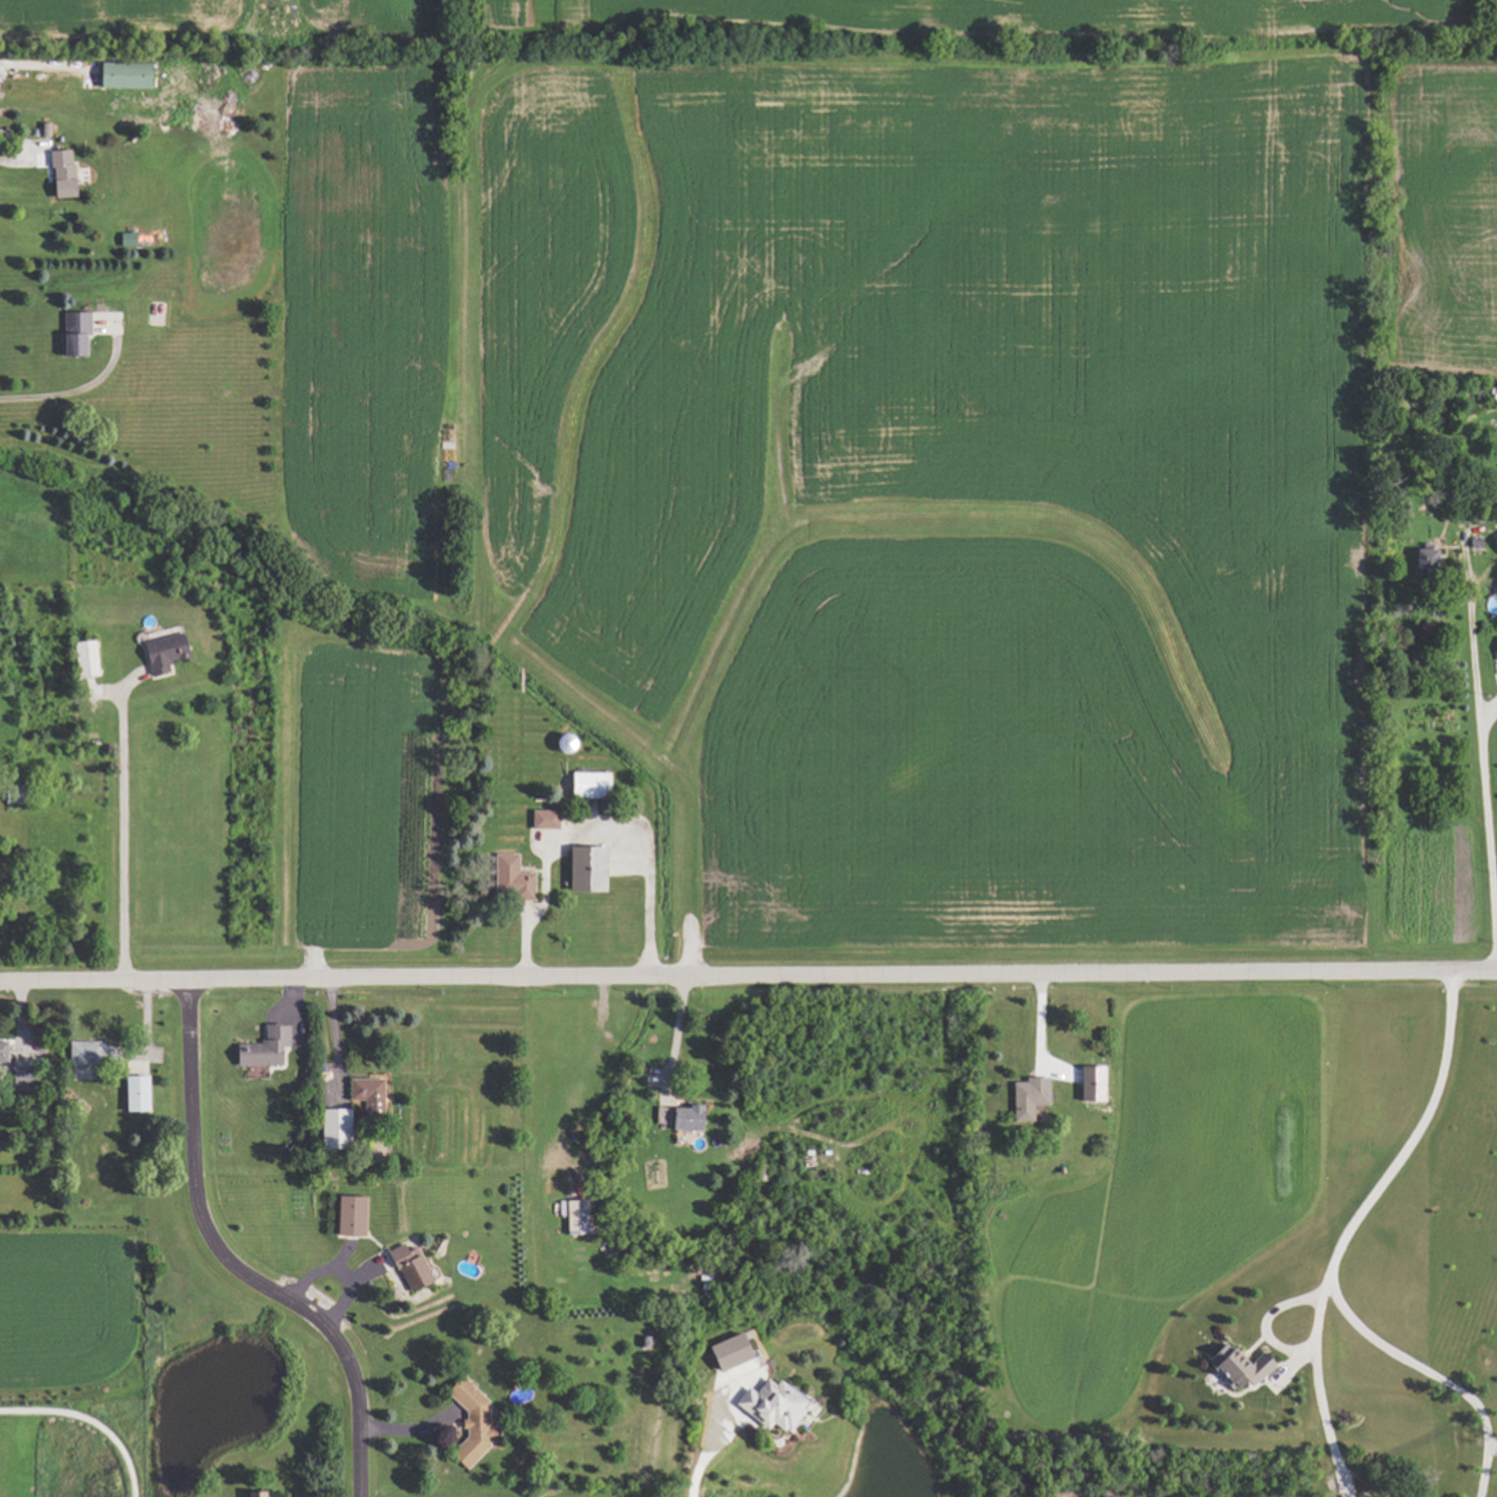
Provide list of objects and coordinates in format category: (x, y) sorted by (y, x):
road: (28, 66)
building: (119, 76)
building: (43, 130)
road: (10, 161)
building: (59, 174)
building: (123, 240)
building: (71, 335)
road: (80, 391)
building: (1496, 550)
building: (1421, 558)
building: (1496, 650)
building: (161, 653)
building: (83, 659)
road: (1483, 771)
building: (585, 784)
building: (541, 819)
road: (588, 831)
road: (121, 839)
building: (582, 868)
building: (510, 878)
road: (748, 973)
road: (676, 1028)
road: (330, 1032)
road: (1043, 1032)
building: (261, 1047)
building: (0, 1051)
building: (79, 1053)
building: (17, 1077)
building: (1088, 1083)
building: (134, 1094)
building: (364, 1094)
building: (1026, 1097)
building: (678, 1118)
building: (346, 1216)
building: (574, 1217)
road: (1337, 1256)
road: (236, 1258)
building: (405, 1267)
road: (341, 1271)
building: (724, 1352)
building: (1236, 1367)
road: (1322, 1389)
building: (768, 1405)
building: (468, 1422)
road: (698, 1456)
building: (251, 1494)

